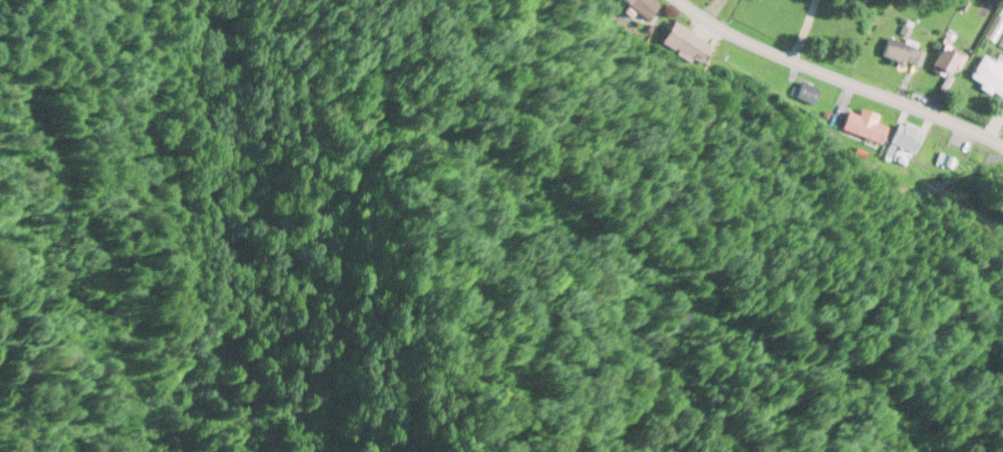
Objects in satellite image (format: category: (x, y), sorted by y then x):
building: (866, 2)
building: (904, 55)
building: (947, 65)
road: (849, 70)
building: (989, 75)
building: (865, 127)
building: (902, 145)

